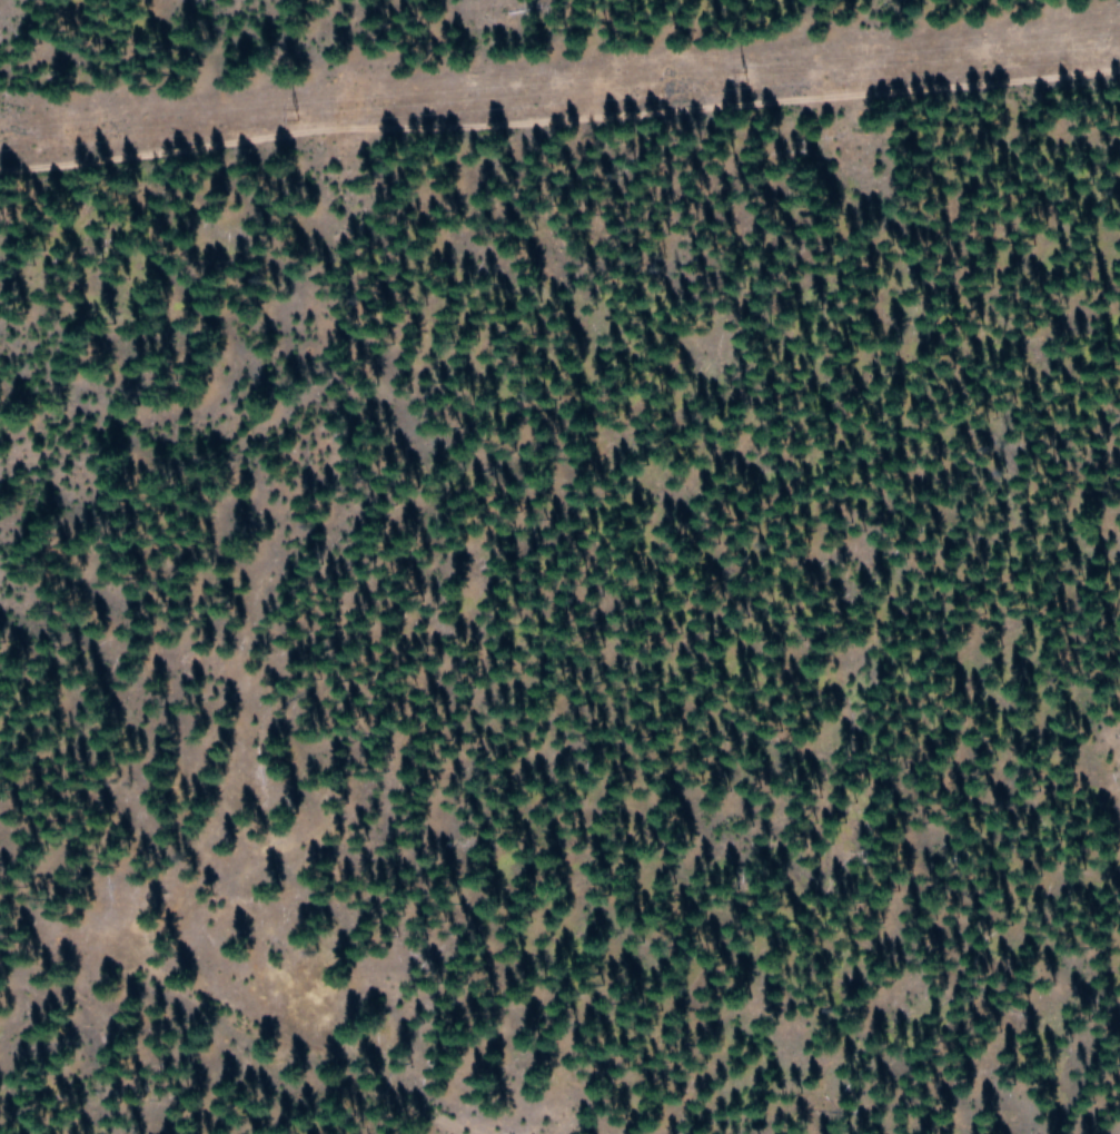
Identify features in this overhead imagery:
power tower: (747, 80)
power tower: (291, 119)

